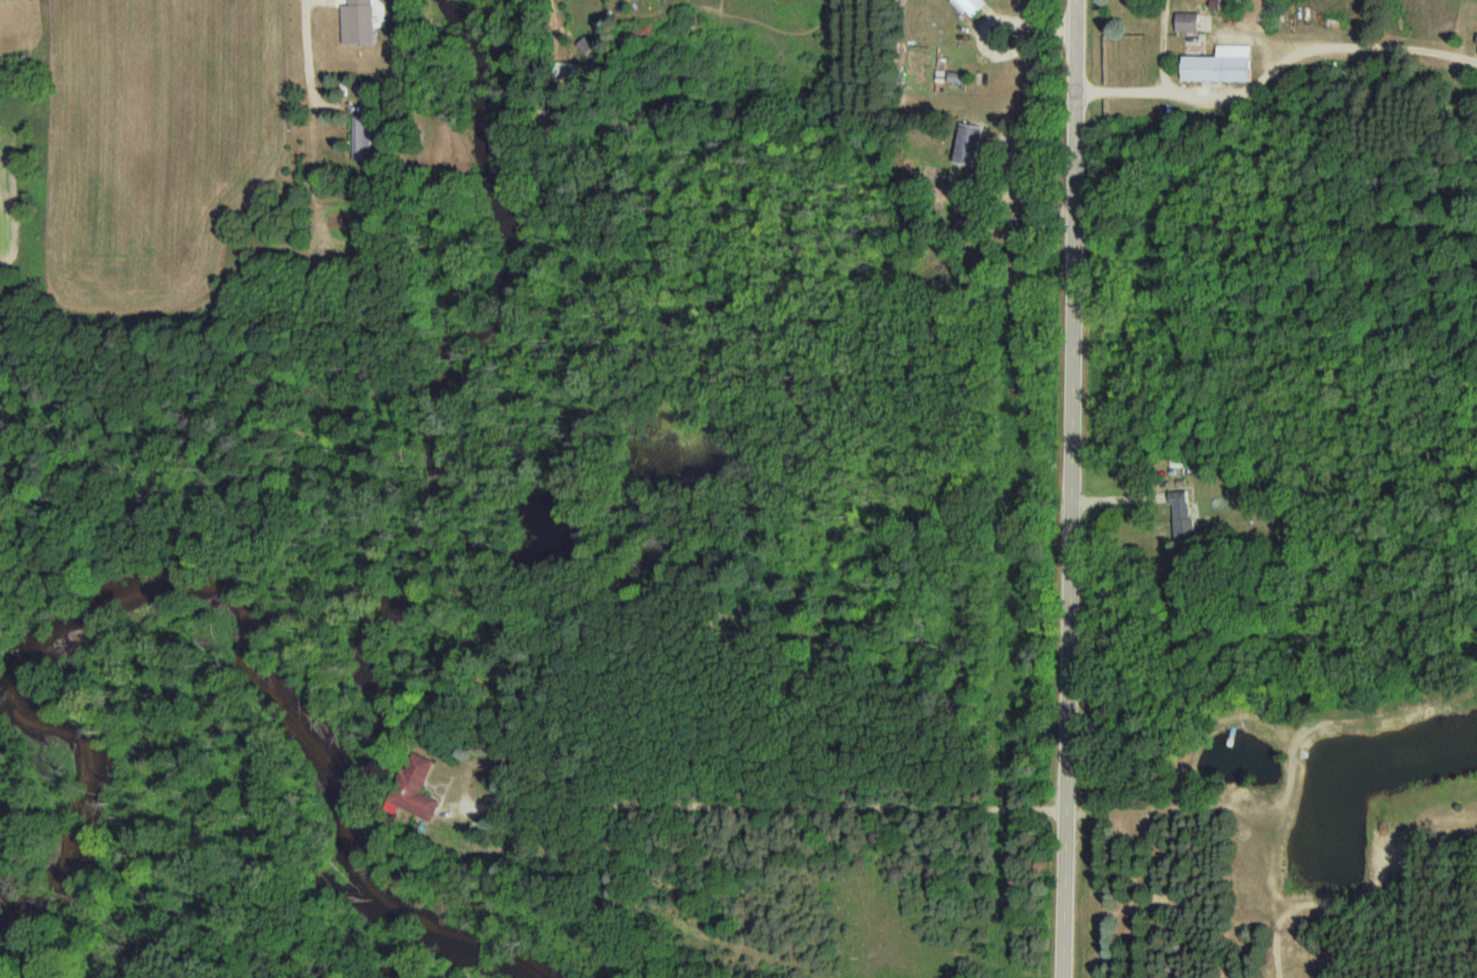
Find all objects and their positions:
building: (970, 6)
building: (359, 11)
building: (1187, 22)
road: (1023, 46)
building: (1220, 65)
building: (957, 78)
building: (362, 139)
building: (968, 146)
river: (442, 389)
road: (1068, 489)
building: (1182, 514)
river: (221, 594)
building: (414, 787)
road: (505, 806)
road: (824, 806)
road: (455, 812)

